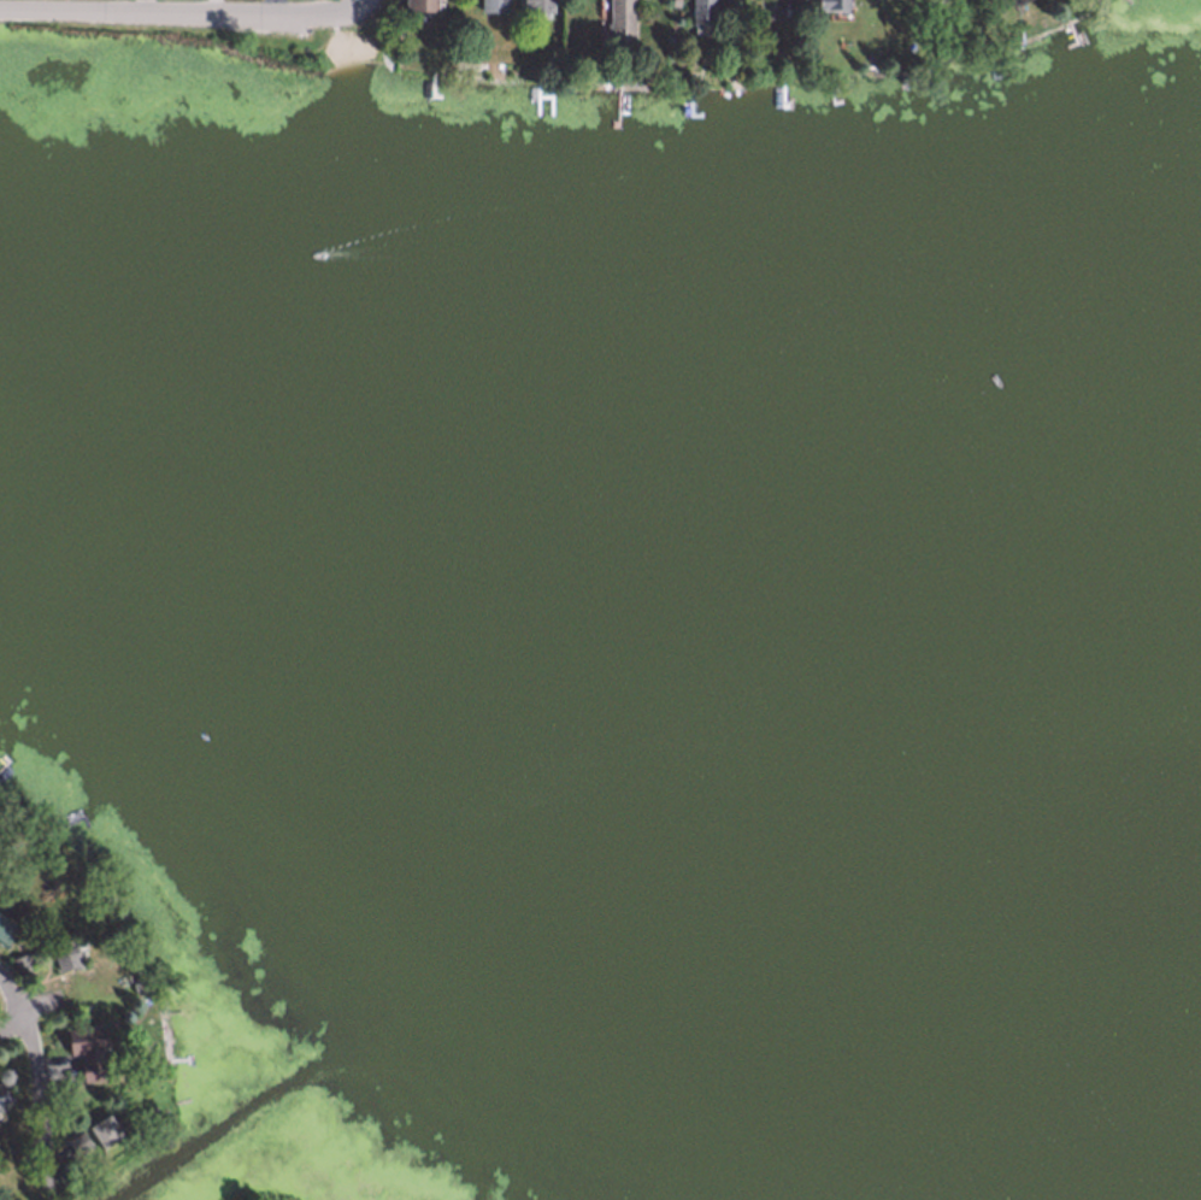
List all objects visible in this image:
building: (547, 0)
building: (788, 0)
building: (782, 2)
building: (417, 4)
building: (829, 4)
building: (489, 5)
building: (576, 6)
building: (699, 10)
road: (187, 16)
building: (616, 25)
building: (5, 928)
building: (60, 952)
building: (18, 959)
building: (136, 984)
building: (51, 998)
road: (10, 1024)
road: (22, 1025)
building: (86, 1048)
building: (4, 1098)
building: (102, 1130)
building: (76, 1142)

